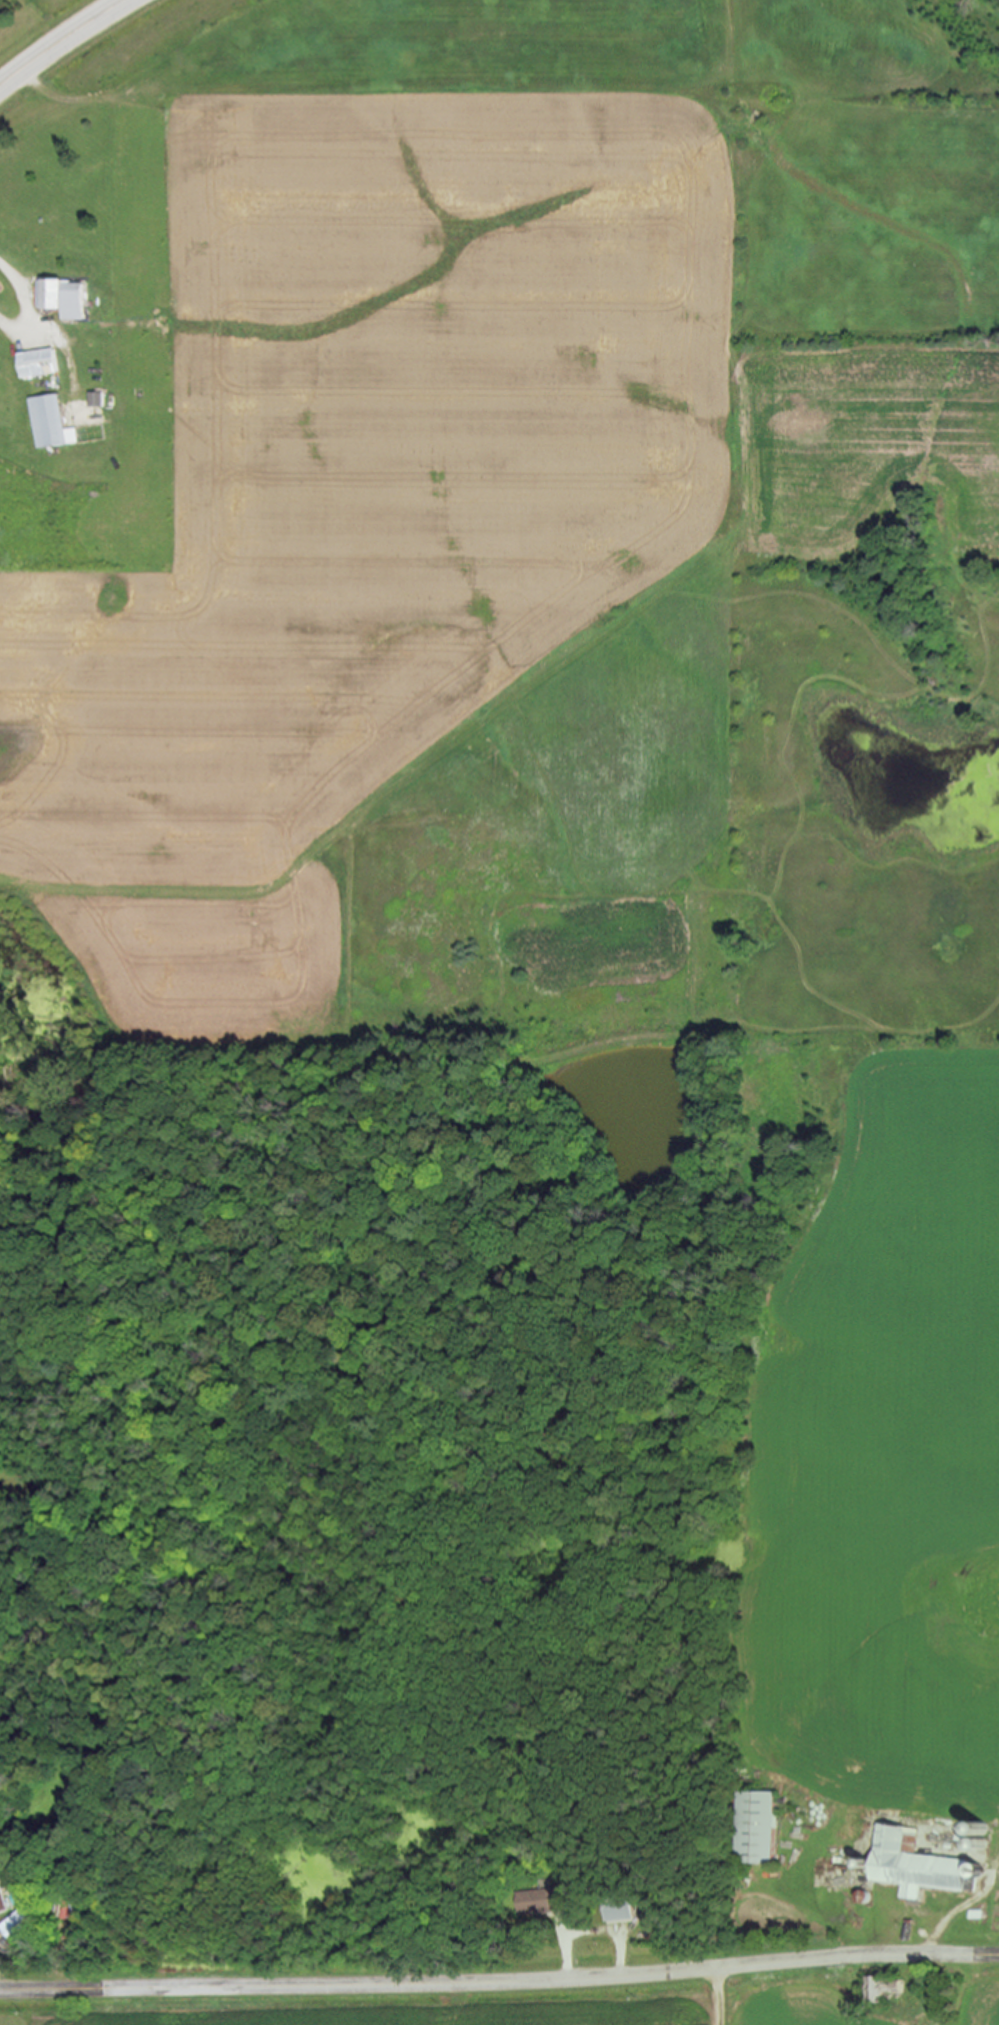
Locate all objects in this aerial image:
road: (60, 42)
building: (67, 298)
road: (24, 301)
building: (44, 364)
building: (99, 401)
building: (54, 424)
building: (910, 1864)
building: (540, 1903)
building: (2, 1904)
road: (910, 1910)
building: (615, 1911)
building: (17, 1927)
road: (591, 1930)
road: (500, 1980)

